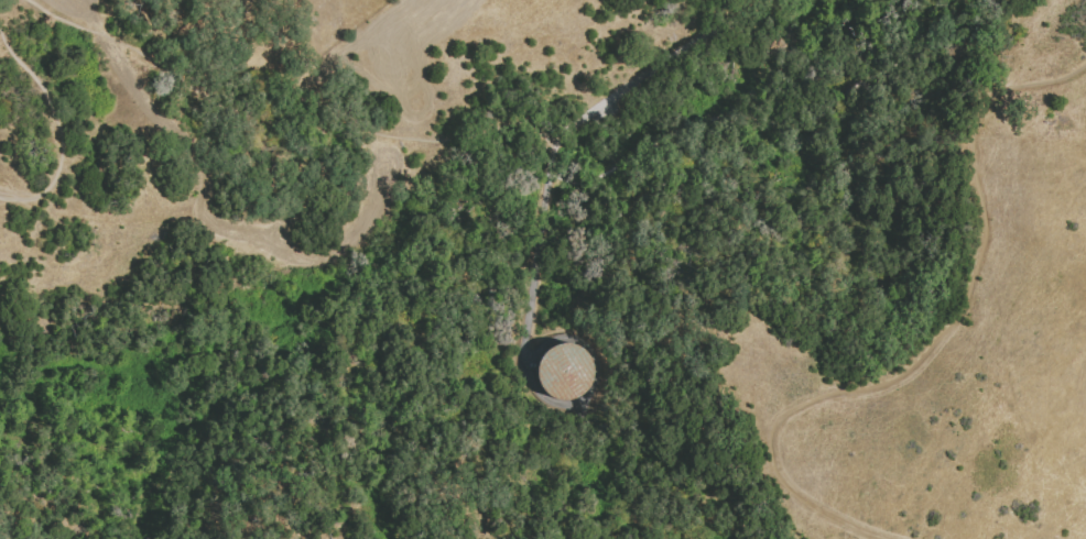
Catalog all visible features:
road: (650, 69)
road: (790, 113)
road: (58, 125)
road: (304, 158)
road: (525, 237)
road: (943, 342)
building: (558, 373)
storage tank: (558, 373)

